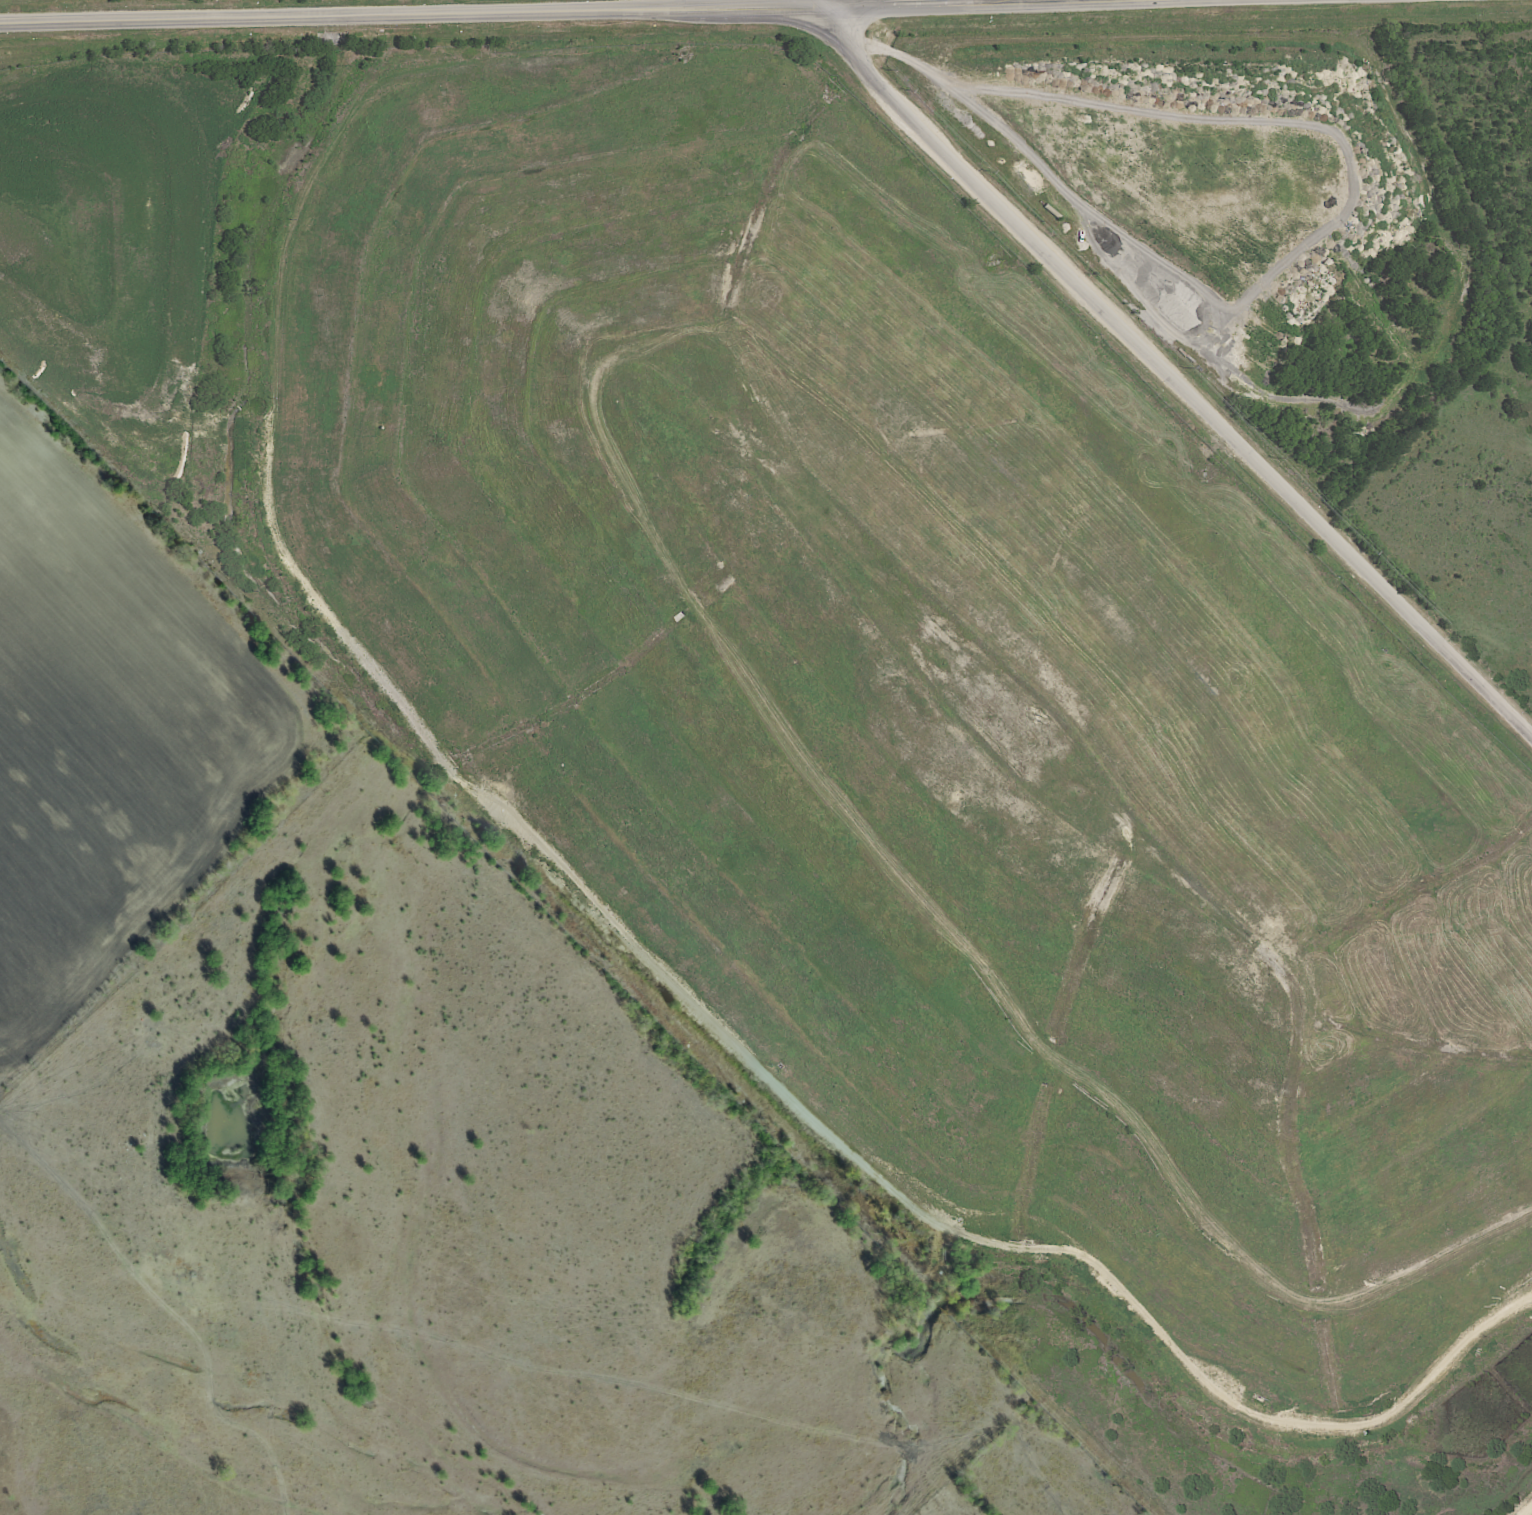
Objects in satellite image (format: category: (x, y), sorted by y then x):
road: (606, 12)
road: (1173, 379)
landfill: (851, 716)

